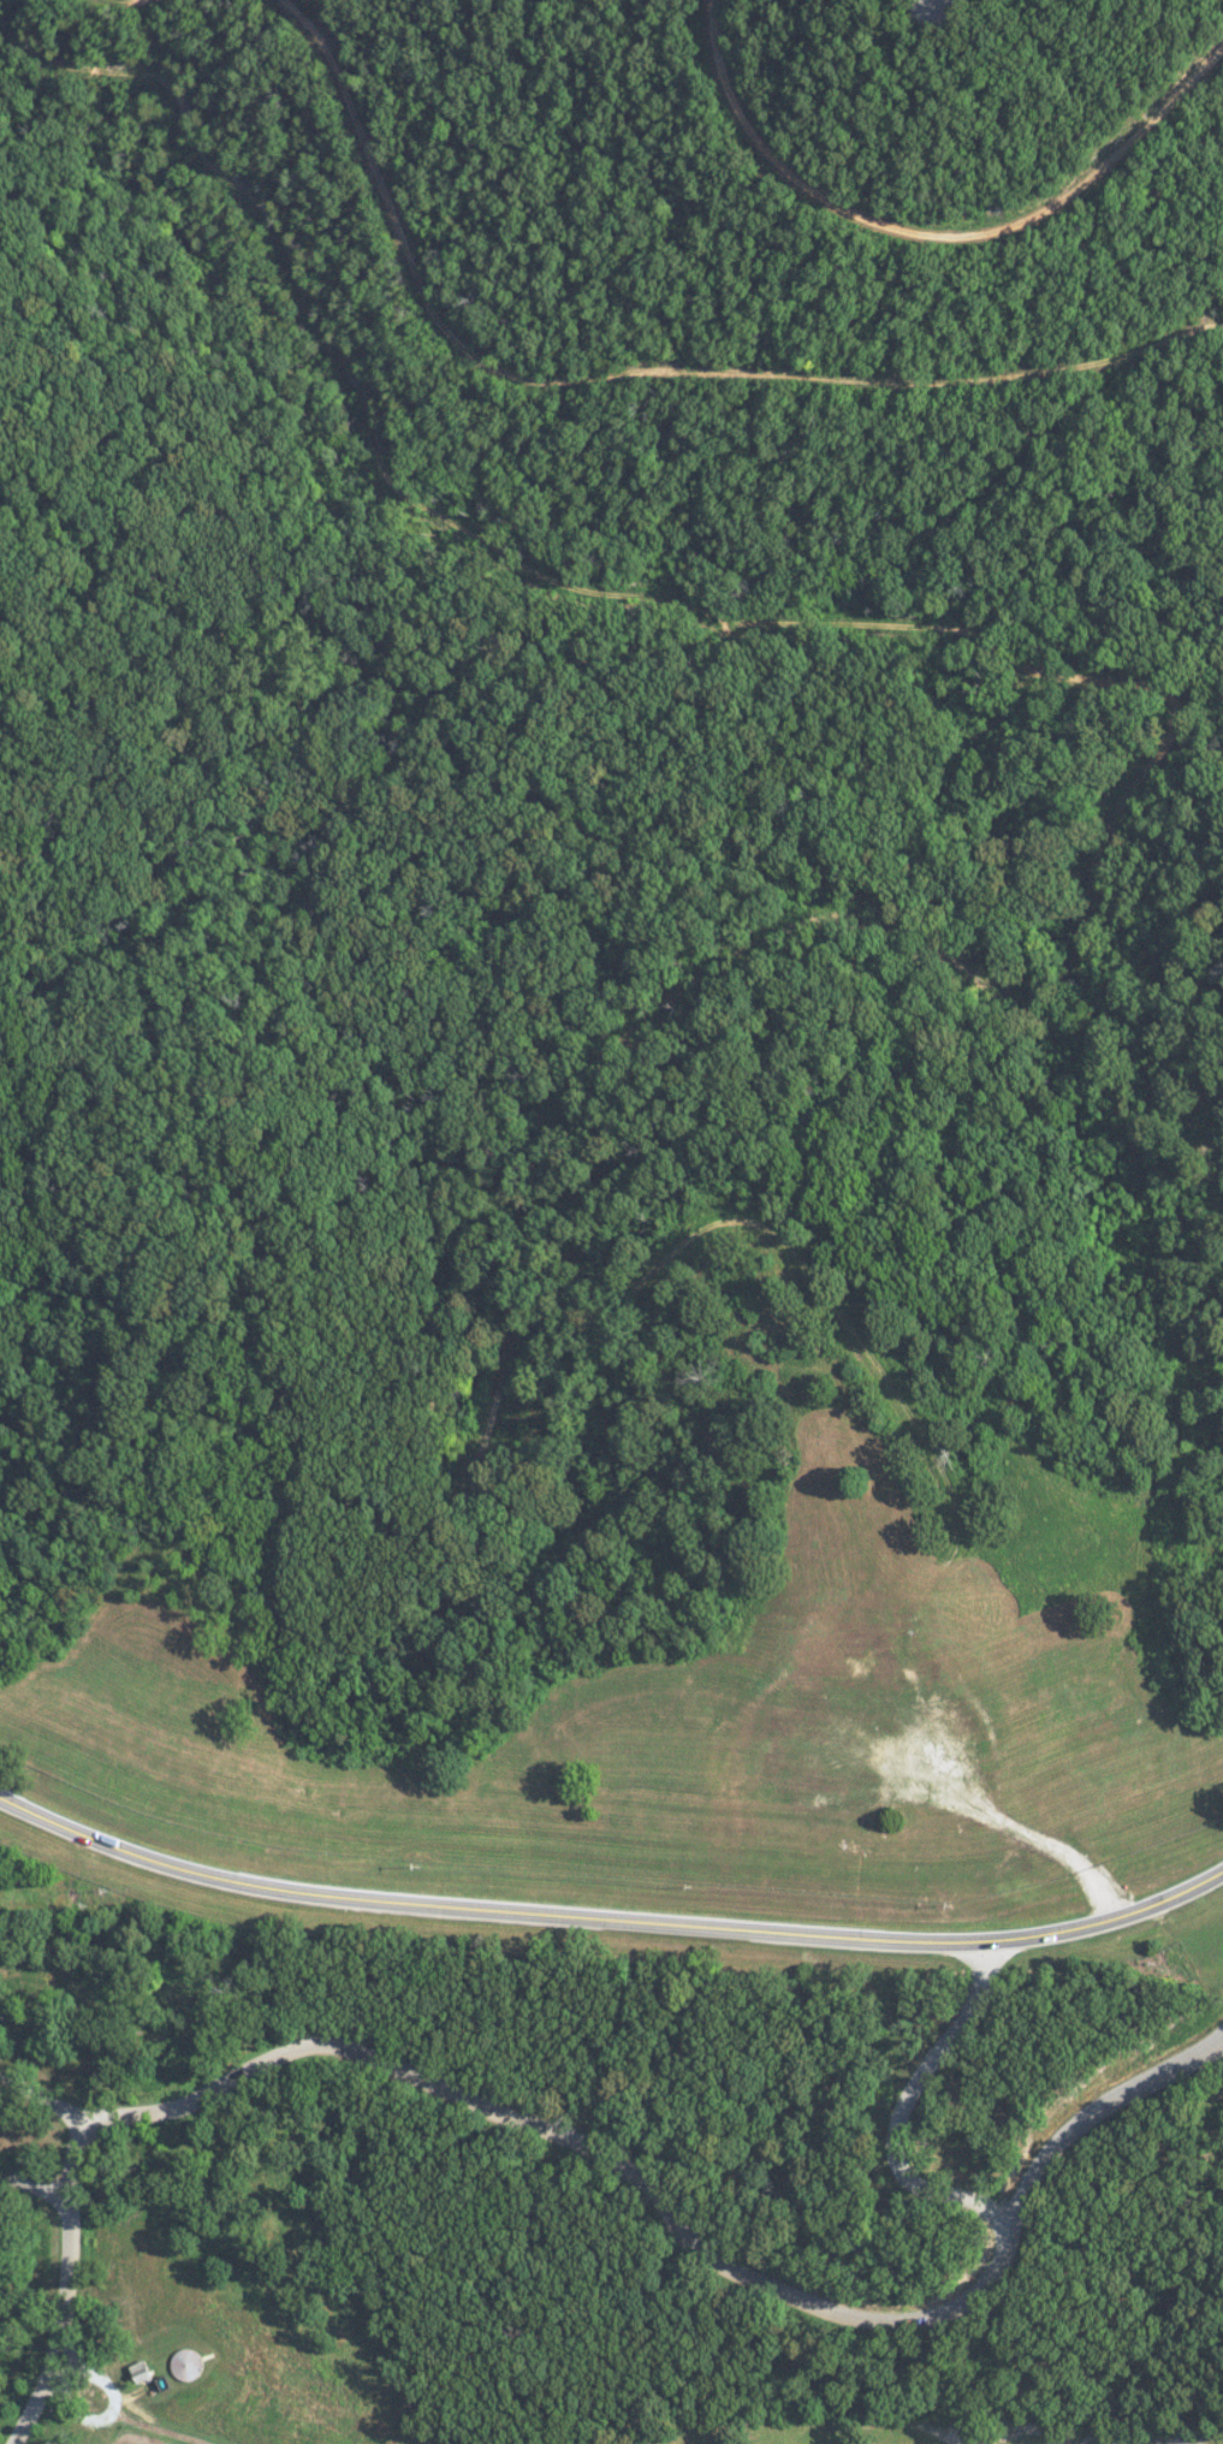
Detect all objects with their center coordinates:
road: (934, 235)
road: (643, 378)
road: (607, 1918)
road: (902, 2112)
road: (663, 2209)
road: (69, 2284)
building: (185, 2363)
building: (142, 2371)

